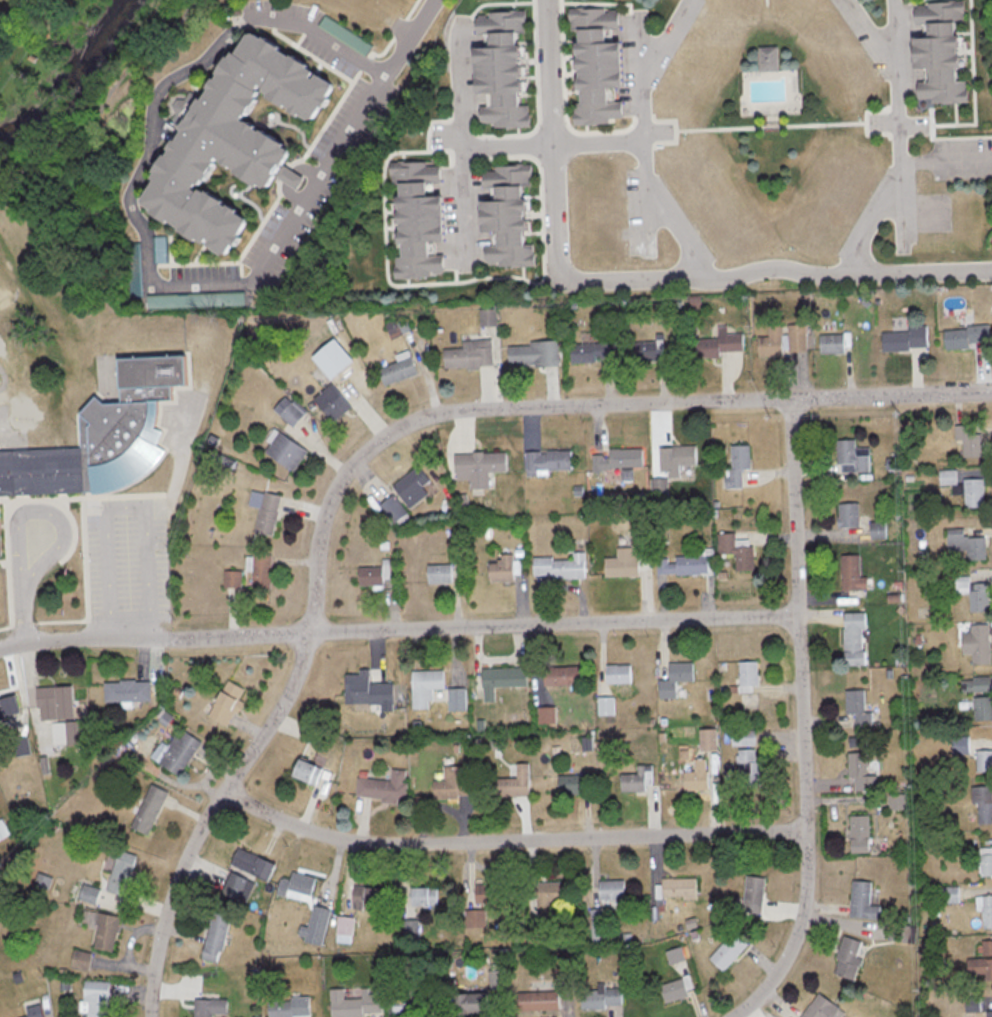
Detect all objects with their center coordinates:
park: (881, 10)
park: (662, 12)
road: (876, 33)
road: (413, 37)
road: (647, 51)
building: (943, 52)
building: (773, 58)
building: (601, 65)
building: (506, 67)
road: (872, 121)
road: (776, 124)
park: (776, 128)
road: (681, 129)
building: (239, 137)
road: (648, 140)
road: (905, 142)
road: (463, 144)
road: (556, 144)
road: (949, 164)
road: (908, 205)
road: (651, 210)
building: (511, 215)
building: (423, 218)
road: (144, 223)
road: (638, 278)
building: (966, 337)
building: (798, 338)
building: (905, 339)
building: (772, 342)
building: (722, 343)
building: (833, 343)
building: (648, 349)
building: (594, 351)
building: (471, 354)
building: (534, 354)
building: (399, 371)
building: (333, 402)
building: (290, 411)
building: (103, 438)
building: (970, 440)
road: (374, 446)
building: (287, 450)
building: (853, 457)
building: (678, 458)
building: (620, 459)
building: (548, 461)
building: (739, 464)
building: (481, 467)
building: (949, 476)
building: (414, 486)
building: (975, 492)
road: (125, 506)
building: (394, 509)
road: (41, 510)
building: (269, 513)
building: (849, 515)
building: (881, 528)
building: (967, 543)
building: (623, 563)
building: (684, 565)
building: (561, 567)
building: (503, 569)
building: (262, 570)
building: (440, 573)
building: (853, 573)
building: (371, 575)
building: (233, 579)
building: (974, 593)
road: (22, 609)
road: (399, 630)
building: (855, 639)
building: (978, 643)
building: (619, 673)
building: (563, 675)
building: (748, 676)
building: (677, 678)
building: (502, 680)
building: (360, 682)
building: (976, 684)
building: (425, 686)
building: (127, 690)
building: (457, 700)
building: (55, 702)
building: (228, 702)
building: (859, 707)
building: (9, 708)
building: (982, 708)
road: (803, 720)
building: (68, 733)
building: (744, 737)
building: (709, 739)
building: (180, 752)
building: (983, 761)
building: (749, 767)
building: (309, 771)
building: (862, 771)
building: (698, 776)
building: (638, 780)
building: (455, 782)
building: (517, 782)
building: (573, 783)
building: (385, 787)
building: (899, 801)
building: (983, 803)
building: (151, 809)
building: (3, 829)
building: (861, 833)
road: (509, 842)
building: (984, 863)
building: (247, 872)
building: (123, 873)
building: (297, 885)
building: (681, 888)
building: (613, 889)
building: (495, 893)
building: (755, 893)
building: (91, 894)
building: (550, 895)
building: (425, 896)
building: (367, 897)
building: (863, 901)
building: (985, 912)
building: (321, 915)
building: (478, 918)
building: (600, 924)
building: (346, 926)
building: (102, 927)
building: (412, 928)
building: (217, 937)
building: (729, 951)
building: (676, 955)
building: (83, 959)
building: (849, 959)
building: (982, 963)
building: (499, 979)
building: (676, 990)
building: (603, 997)
building: (98, 998)
building: (433, 1002)
building: (539, 1002)
building: (474, 1004)
building: (355, 1005)
building: (406, 1005)
building: (33, 1008)
building: (204, 1008)
building: (823, 1008)
building: (281, 1009)
building: (989, 1014)

